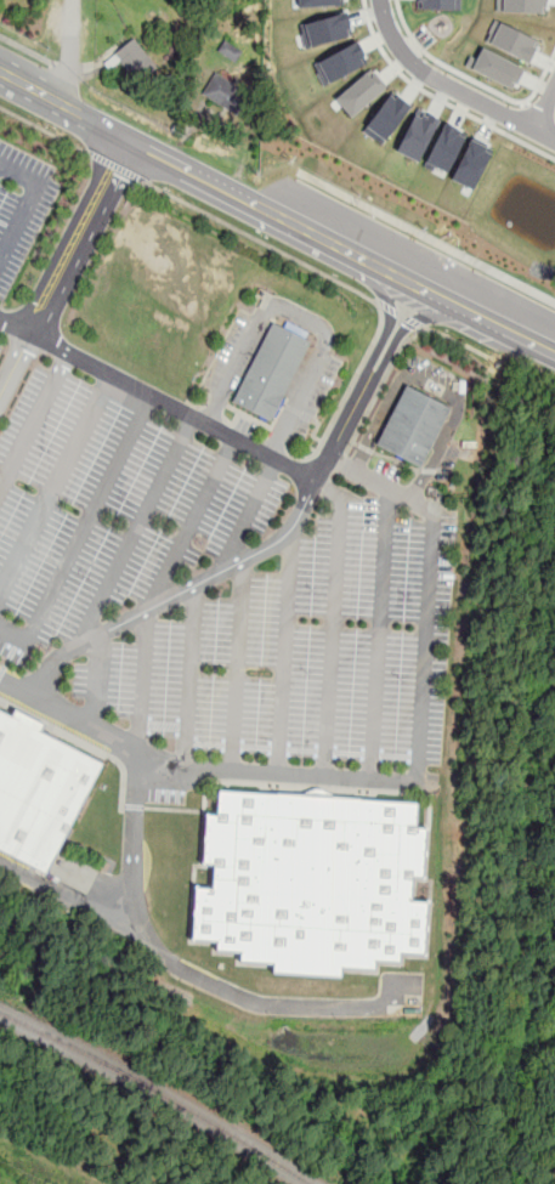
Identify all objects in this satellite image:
building: (319, 2)
building: (438, 4)
building: (522, 5)
building: (324, 29)
parking lot: (425, 36)
building: (512, 41)
road: (28, 50)
building: (230, 50)
road: (69, 53)
building: (136, 60)
building: (340, 62)
building: (495, 67)
road: (62, 70)
road: (472, 79)
road: (448, 87)
road: (32, 90)
building: (361, 92)
building: (225, 94)
road: (438, 98)
road: (526, 103)
road: (543, 107)
road: (533, 111)
building: (386, 118)
road: (104, 129)
road: (45, 130)
building: (417, 134)
building: (444, 148)
building: (471, 164)
road: (118, 168)
road: (33, 202)
road: (254, 203)
parking lot: (21, 214)
road: (427, 237)
road: (264, 244)
road: (66, 271)
road: (386, 271)
road: (434, 296)
road: (300, 316)
road: (404, 316)
road: (387, 321)
road: (505, 332)
road: (400, 333)
parking lot: (6, 355)
road: (396, 362)
building: (271, 372)
road: (434, 385)
road: (158, 398)
road: (35, 420)
building: (413, 425)
road: (55, 480)
parking lot: (108, 510)
road: (245, 516)
road: (192, 525)
road: (81, 533)
road: (131, 534)
road: (223, 572)
road: (431, 585)
road: (335, 621)
road: (378, 634)
parking lot: (300, 646)
road: (287, 651)
road: (238, 665)
road: (192, 676)
road: (97, 684)
road: (143, 685)
road: (198, 769)
building: (34, 787)
road: (135, 845)
building: (317, 889)
road: (192, 973)
railway: (165, 1089)

